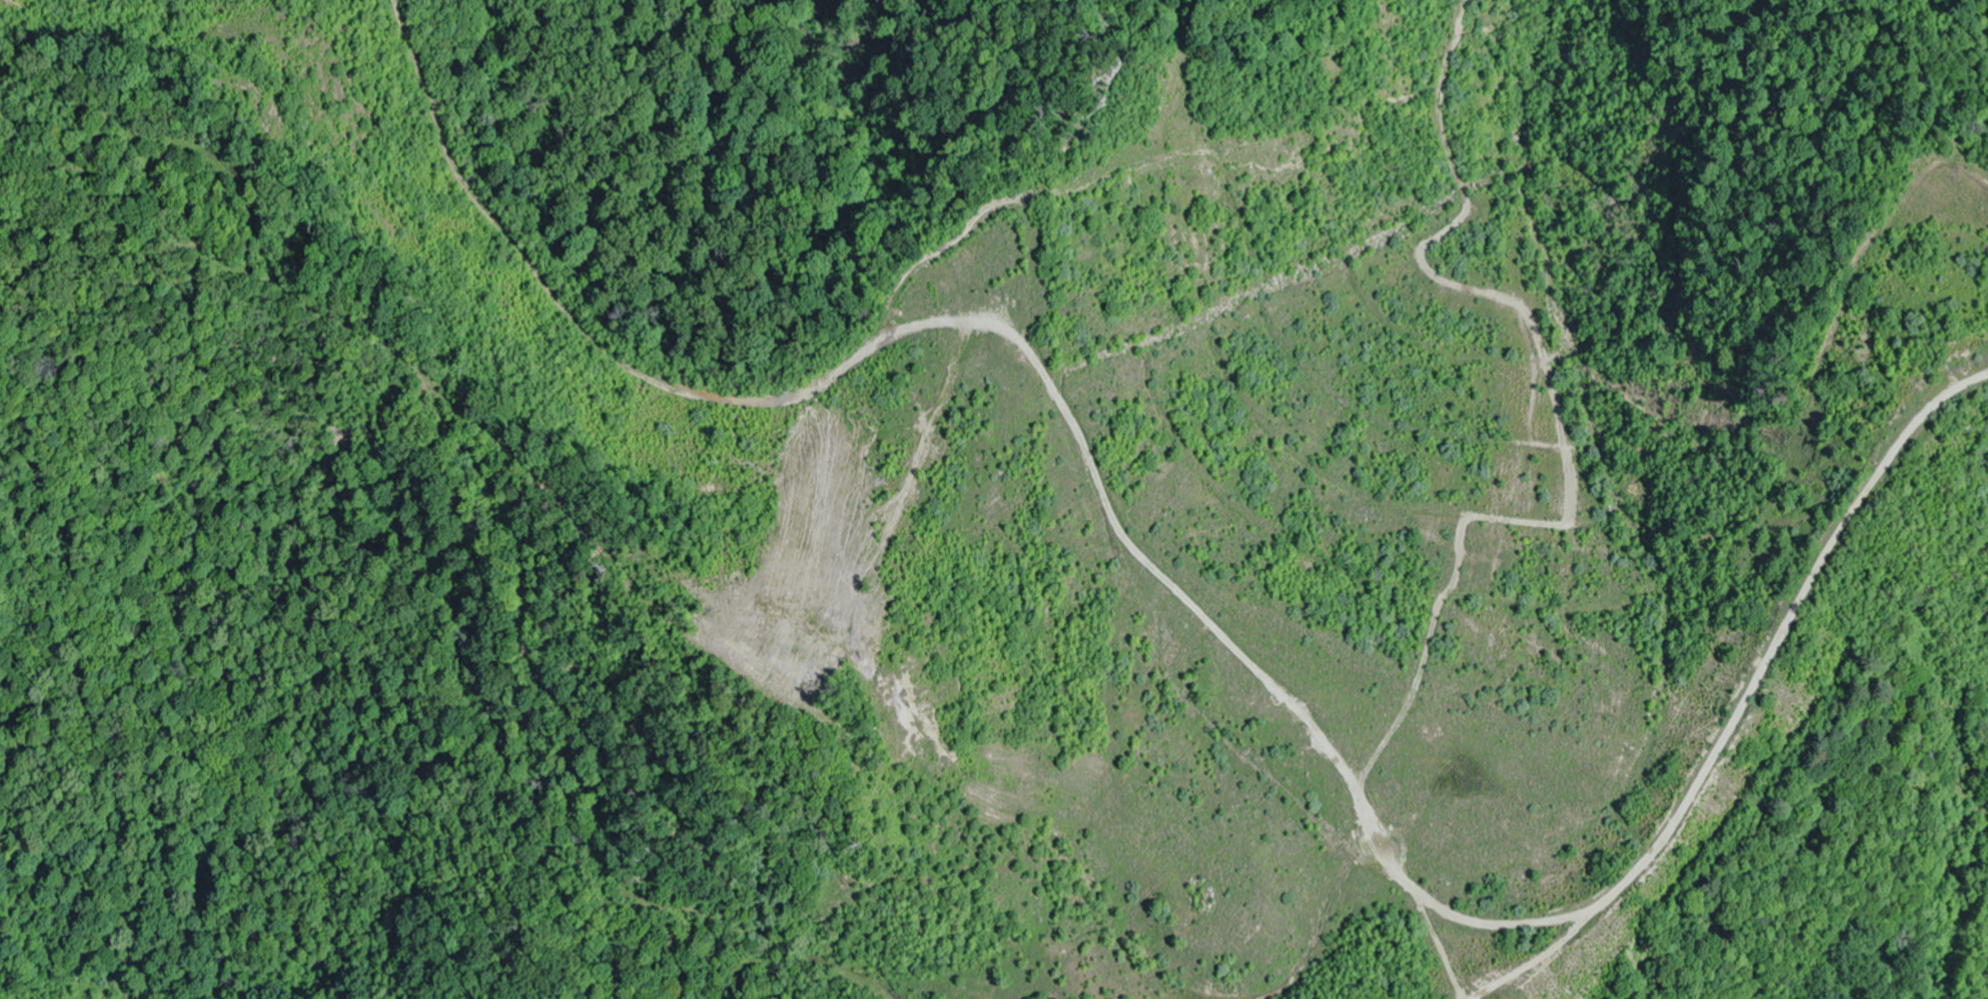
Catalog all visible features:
road: (57, 509)
road: (455, 515)
road: (1767, 724)

